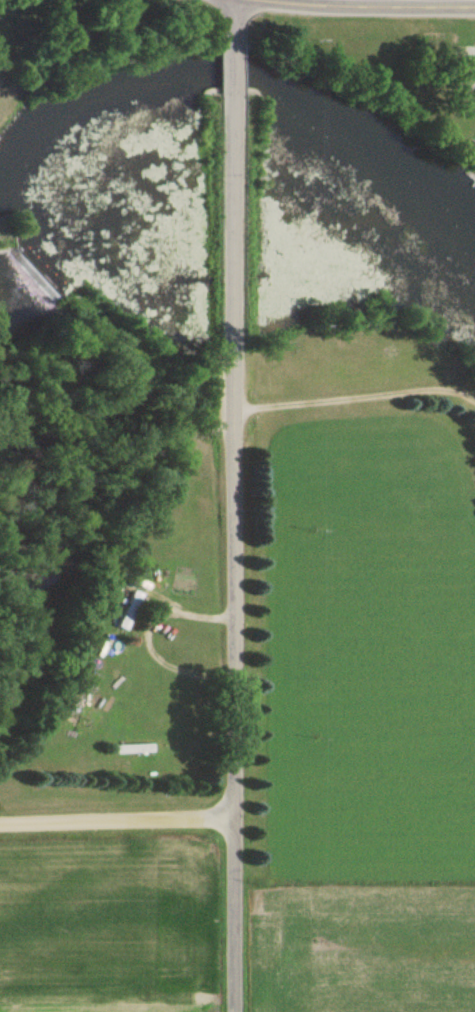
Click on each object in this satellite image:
road: (353, 6)
road: (220, 23)
road: (221, 67)
building: (462, 74)
river: (254, 82)
road: (221, 550)
building: (126, 613)
building: (130, 750)
road: (111, 822)

